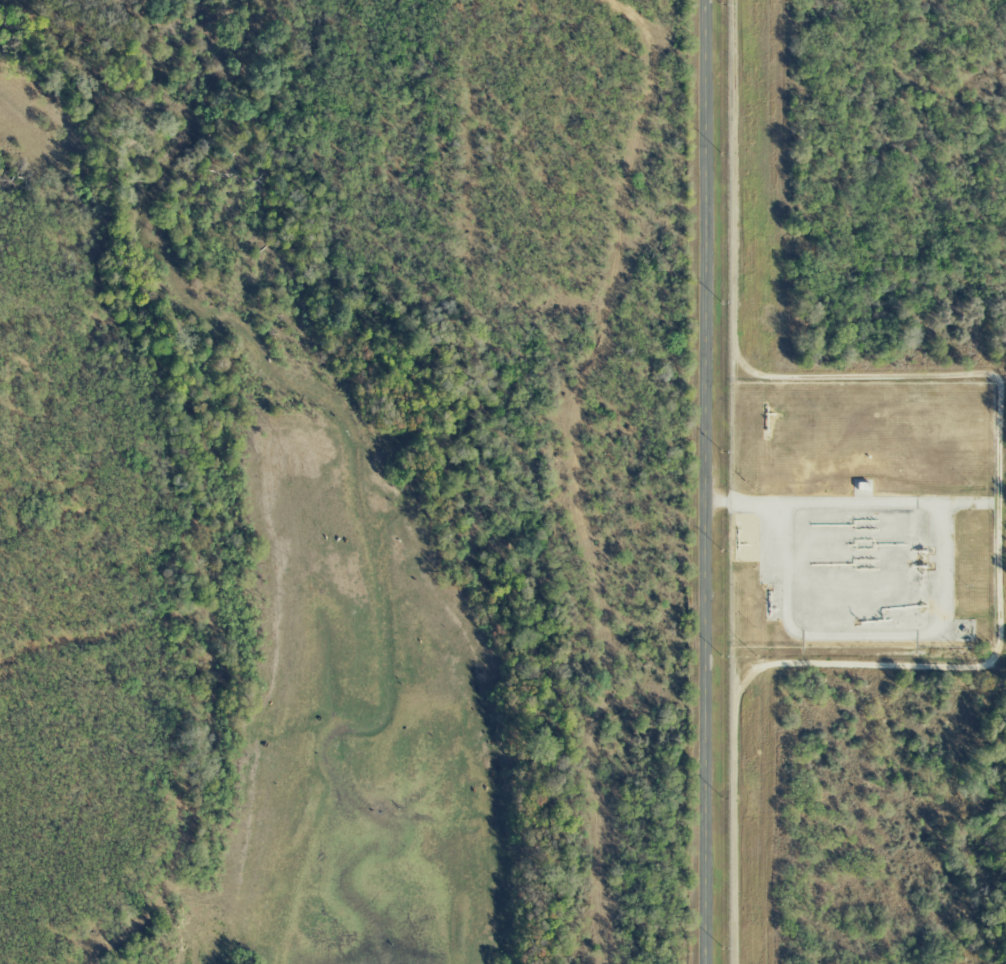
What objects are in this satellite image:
road: (999, 480)
road: (704, 481)
road: (848, 503)
road: (1002, 609)
road: (865, 635)

